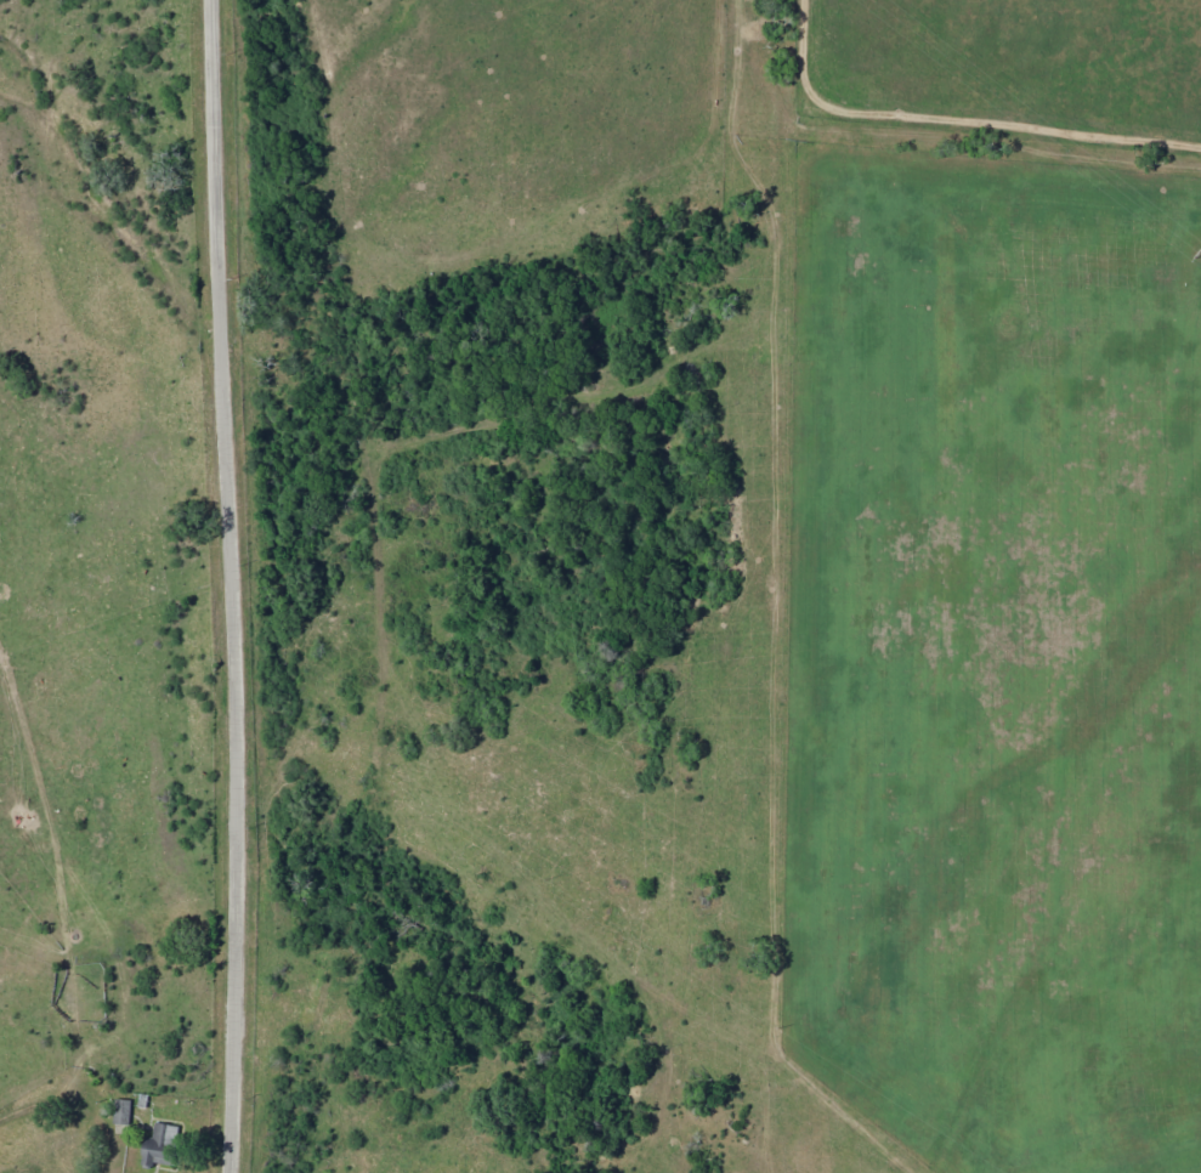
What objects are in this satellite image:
road: (236, 585)
building: (121, 1111)
building: (159, 1145)

